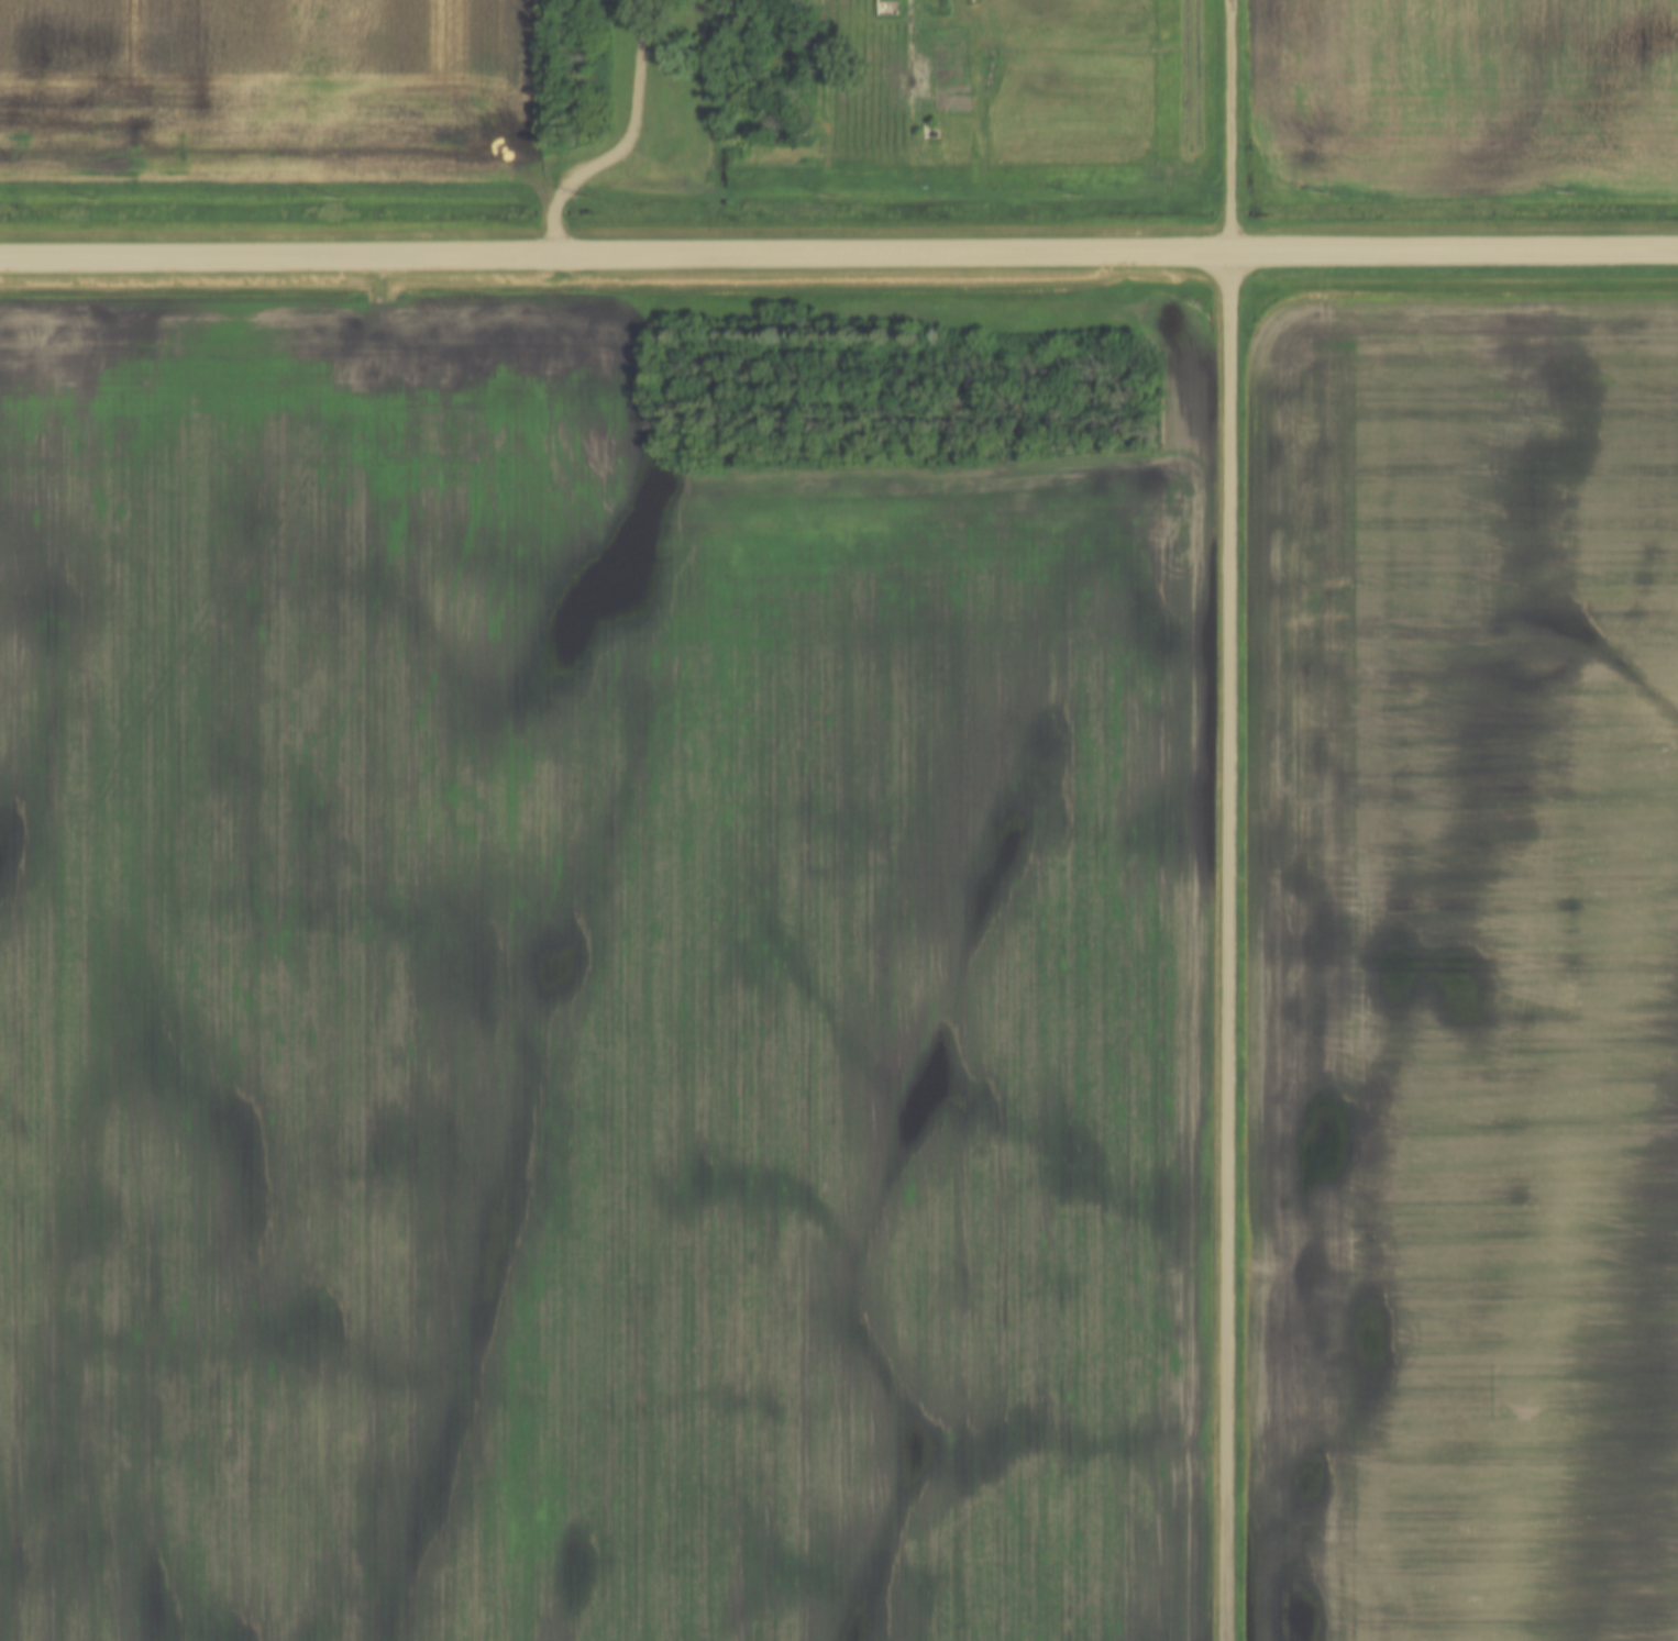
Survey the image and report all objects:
road: (1237, 130)
road: (620, 146)
road: (839, 259)
road: (1235, 950)

